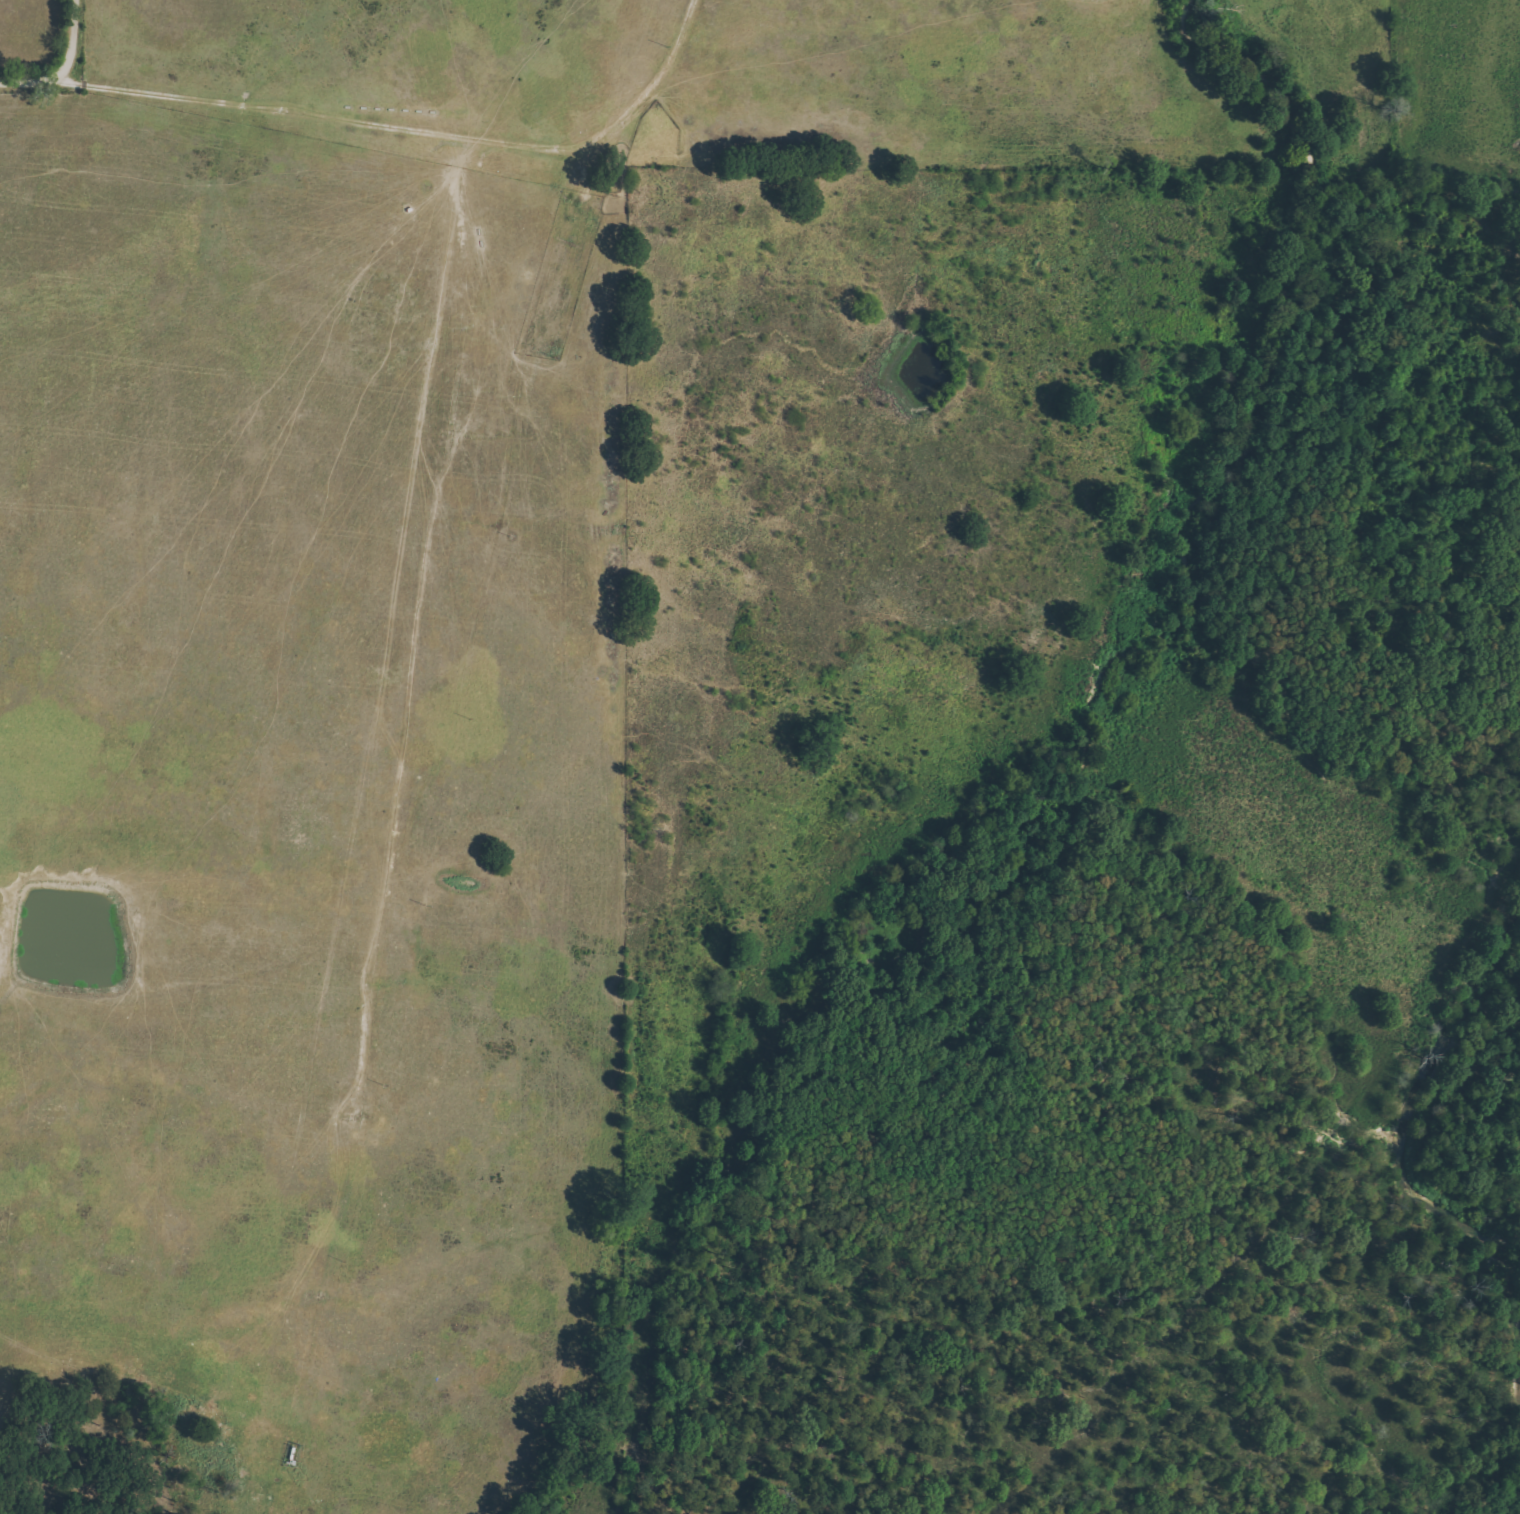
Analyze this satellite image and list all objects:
road: (64, 68)

